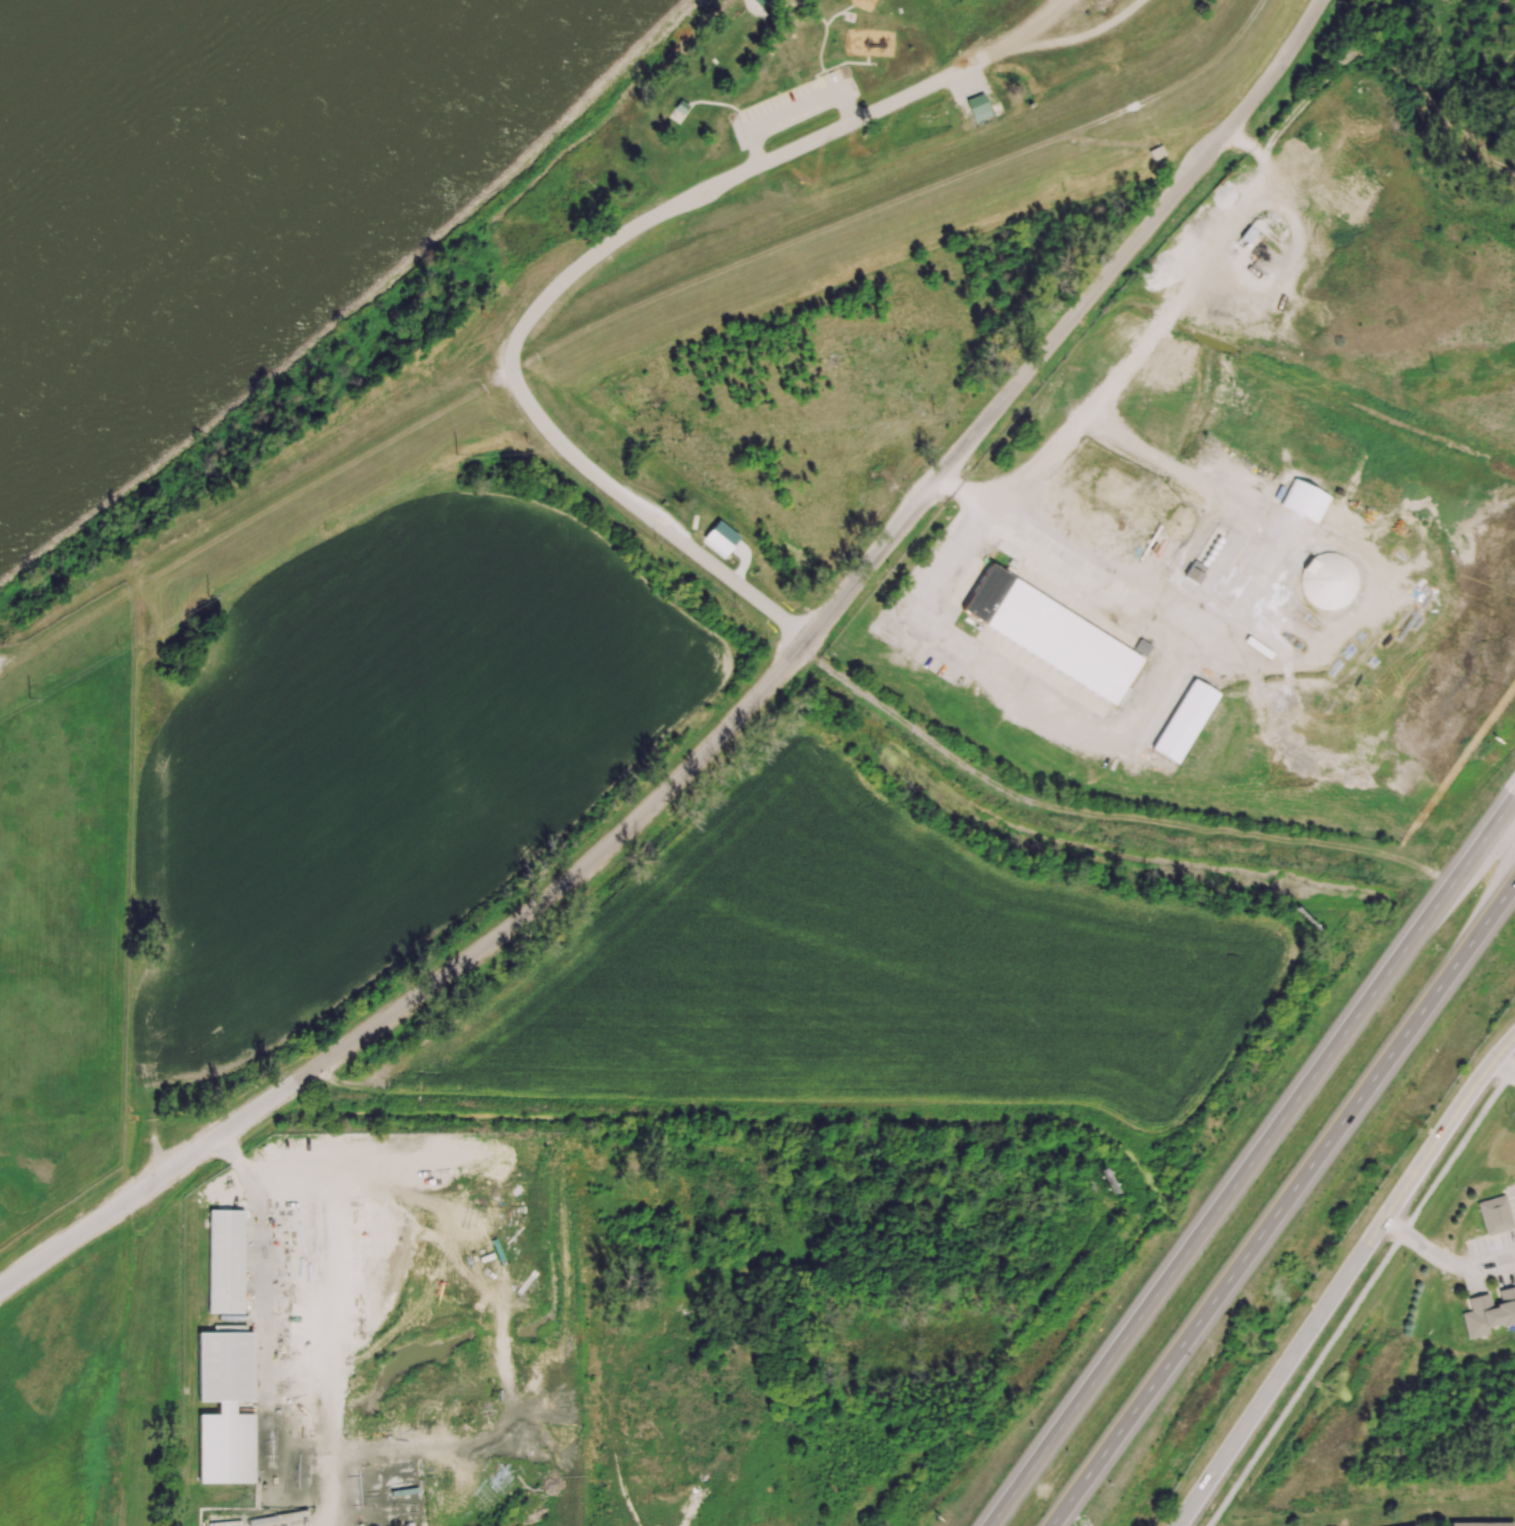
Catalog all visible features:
building: (762, 5)
road: (804, 5)
road: (833, 17)
parking lot: (1088, 18)
road: (1028, 30)
road: (1073, 36)
road: (819, 49)
parking lot: (965, 82)
road: (709, 103)
parking lot: (787, 107)
building: (995, 108)
building: (678, 109)
building: (977, 110)
river: (186, 139)
building: (1154, 154)
park: (757, 273)
road: (556, 290)
road: (1142, 351)
building: (719, 537)
building: (1051, 634)
road: (733, 719)
crop: (390, 757)
crop: (865, 972)
road: (1503, 1070)
road: (1281, 1119)
road: (1305, 1176)
building: (351, 1244)
road: (1444, 1260)
building: (225, 1261)
road: (1344, 1279)
road: (1361, 1296)
road: (1020, 1482)
road: (1074, 1499)

